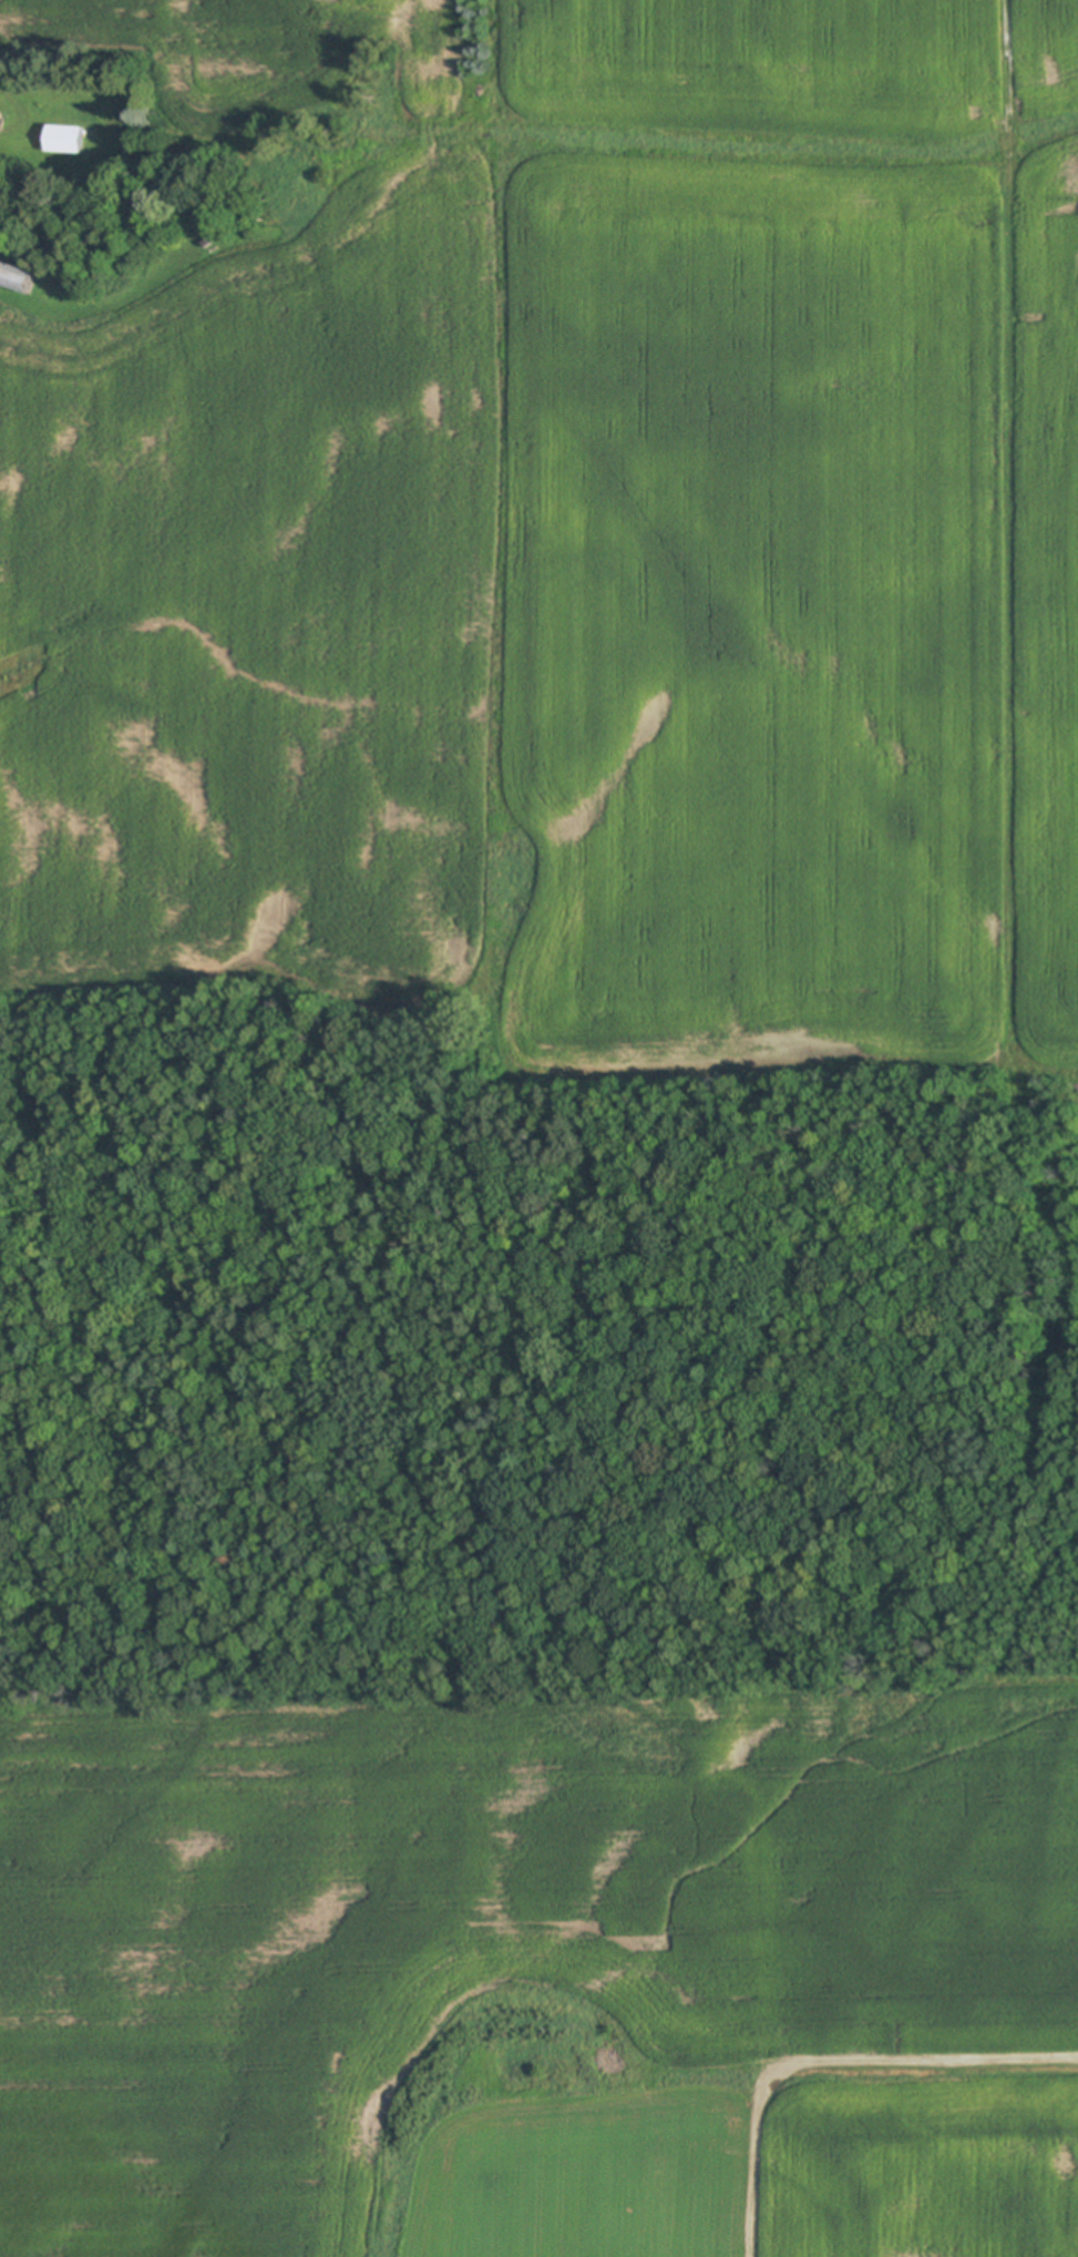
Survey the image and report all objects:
building: (70, 141)
building: (19, 282)

